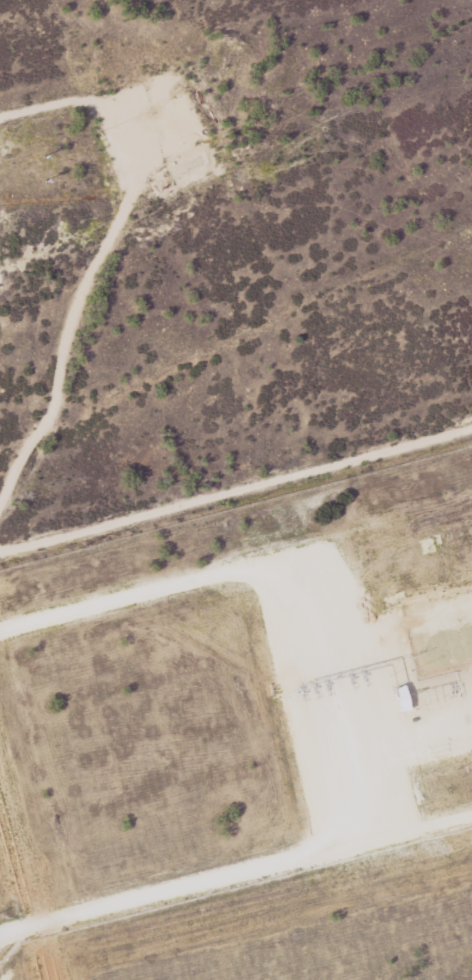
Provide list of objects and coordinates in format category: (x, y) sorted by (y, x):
road: (236, 876)

